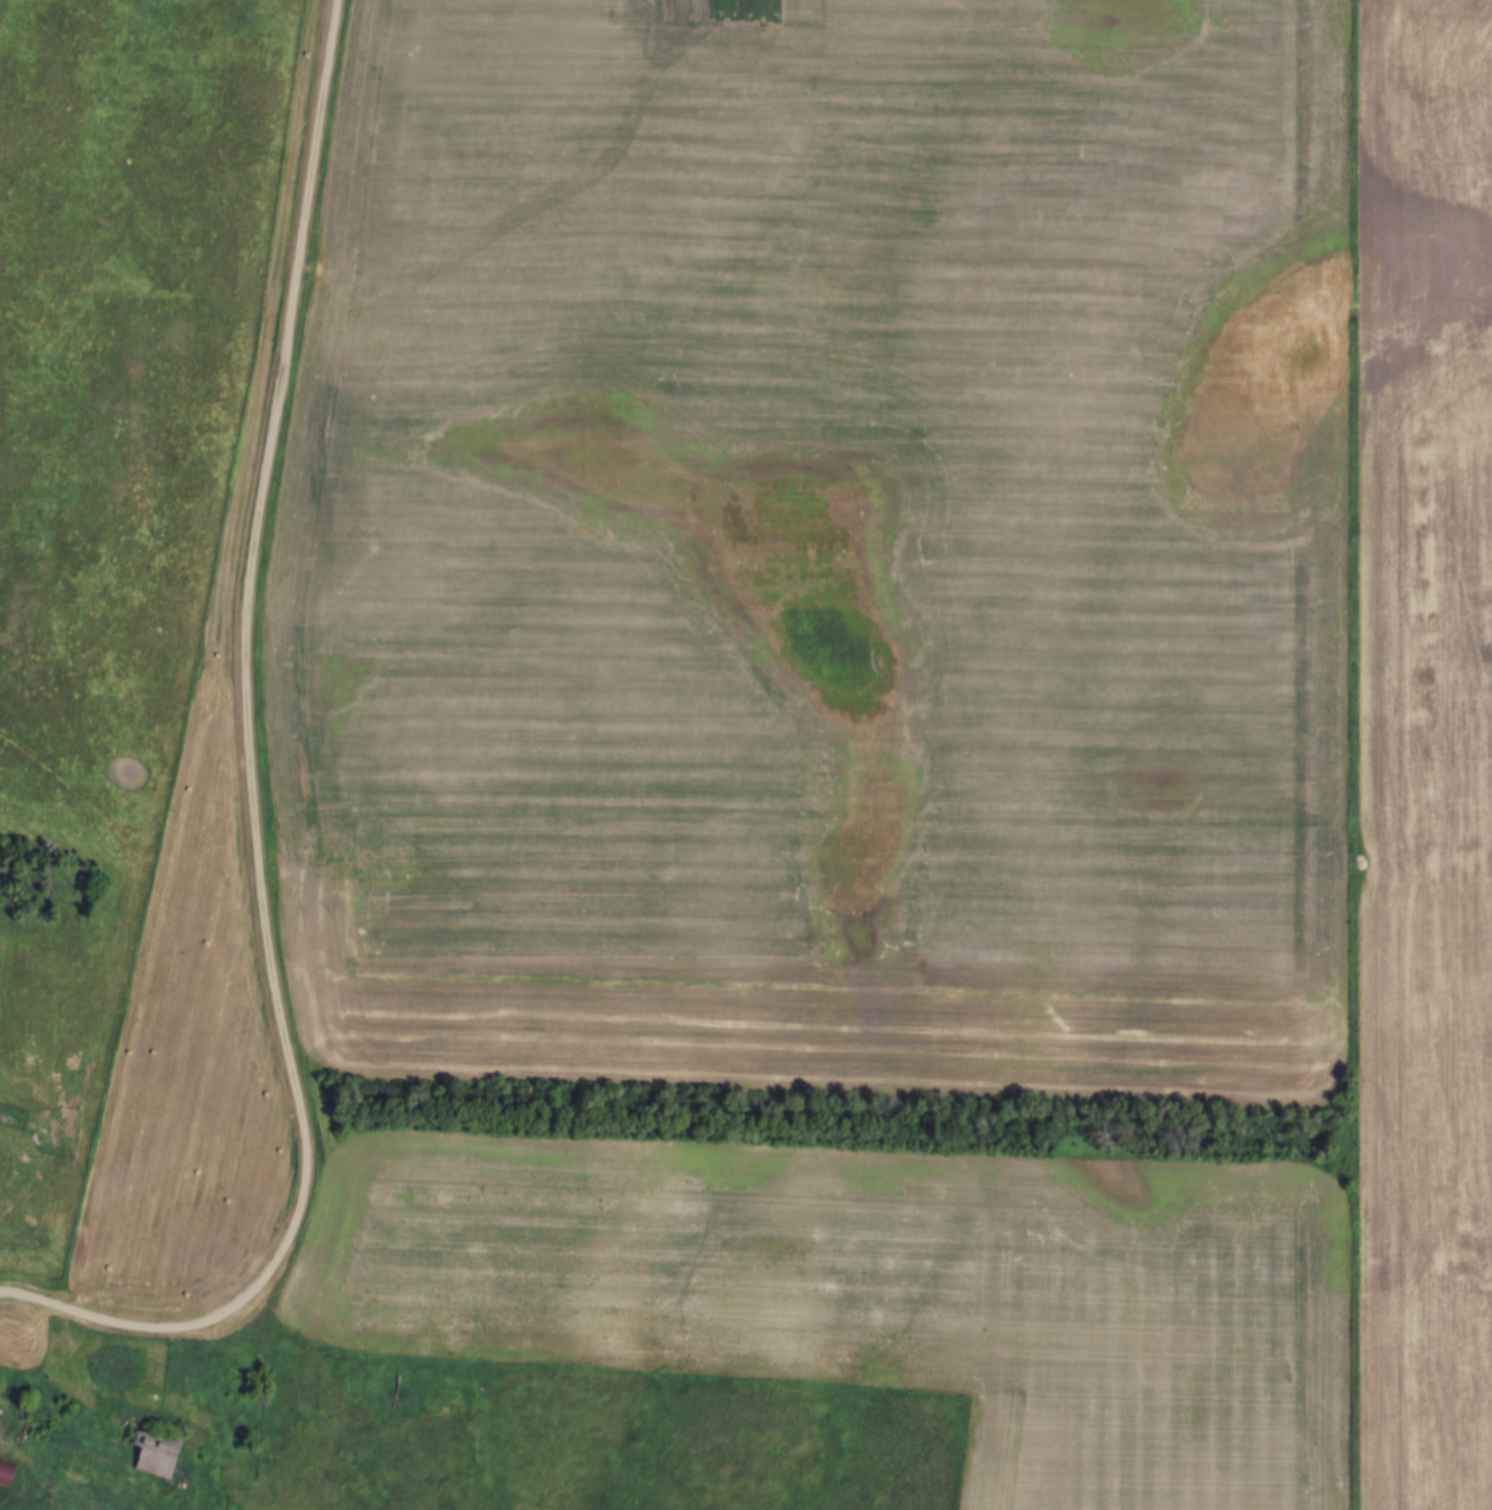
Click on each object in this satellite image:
road: (254, 786)
building: (161, 1452)
building: (8, 1468)

